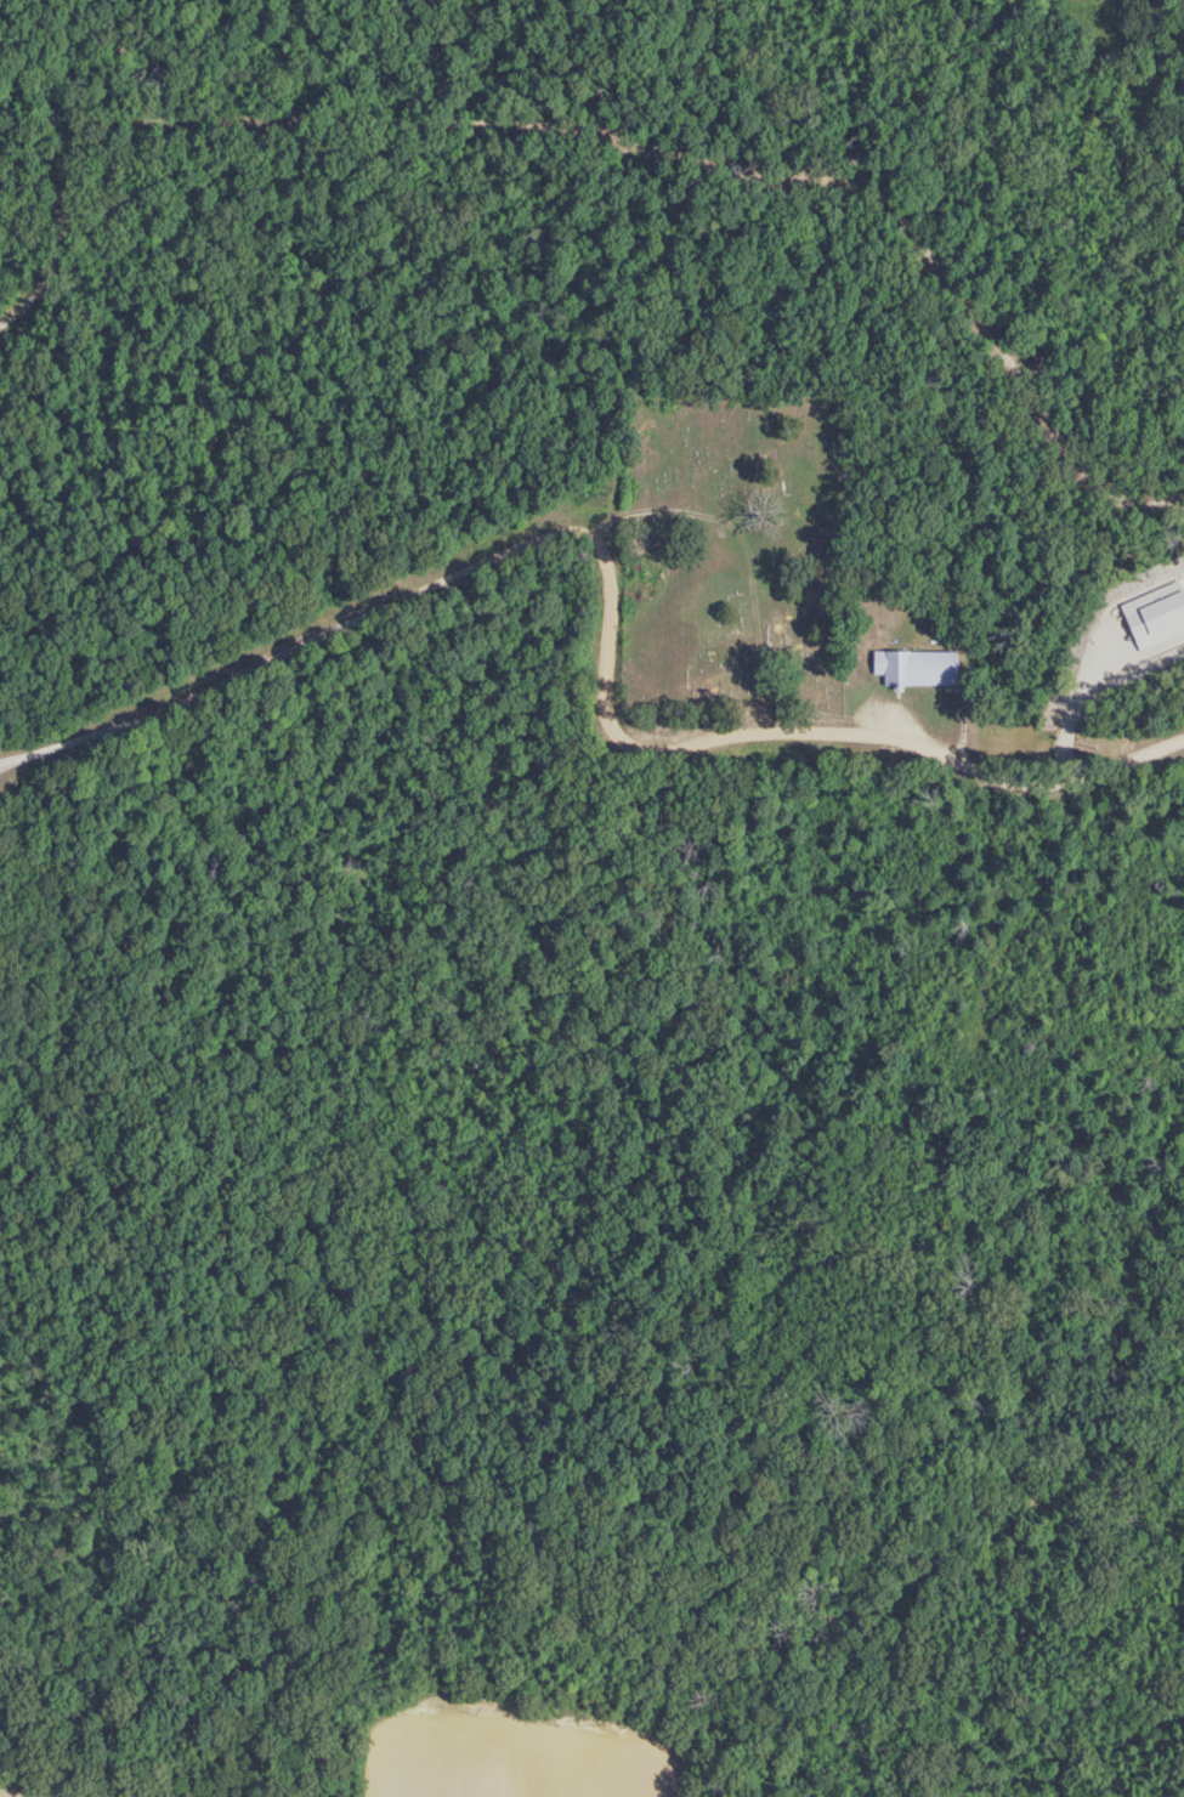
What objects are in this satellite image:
road: (685, 511)
park: (731, 554)
road: (617, 599)
building: (913, 670)

